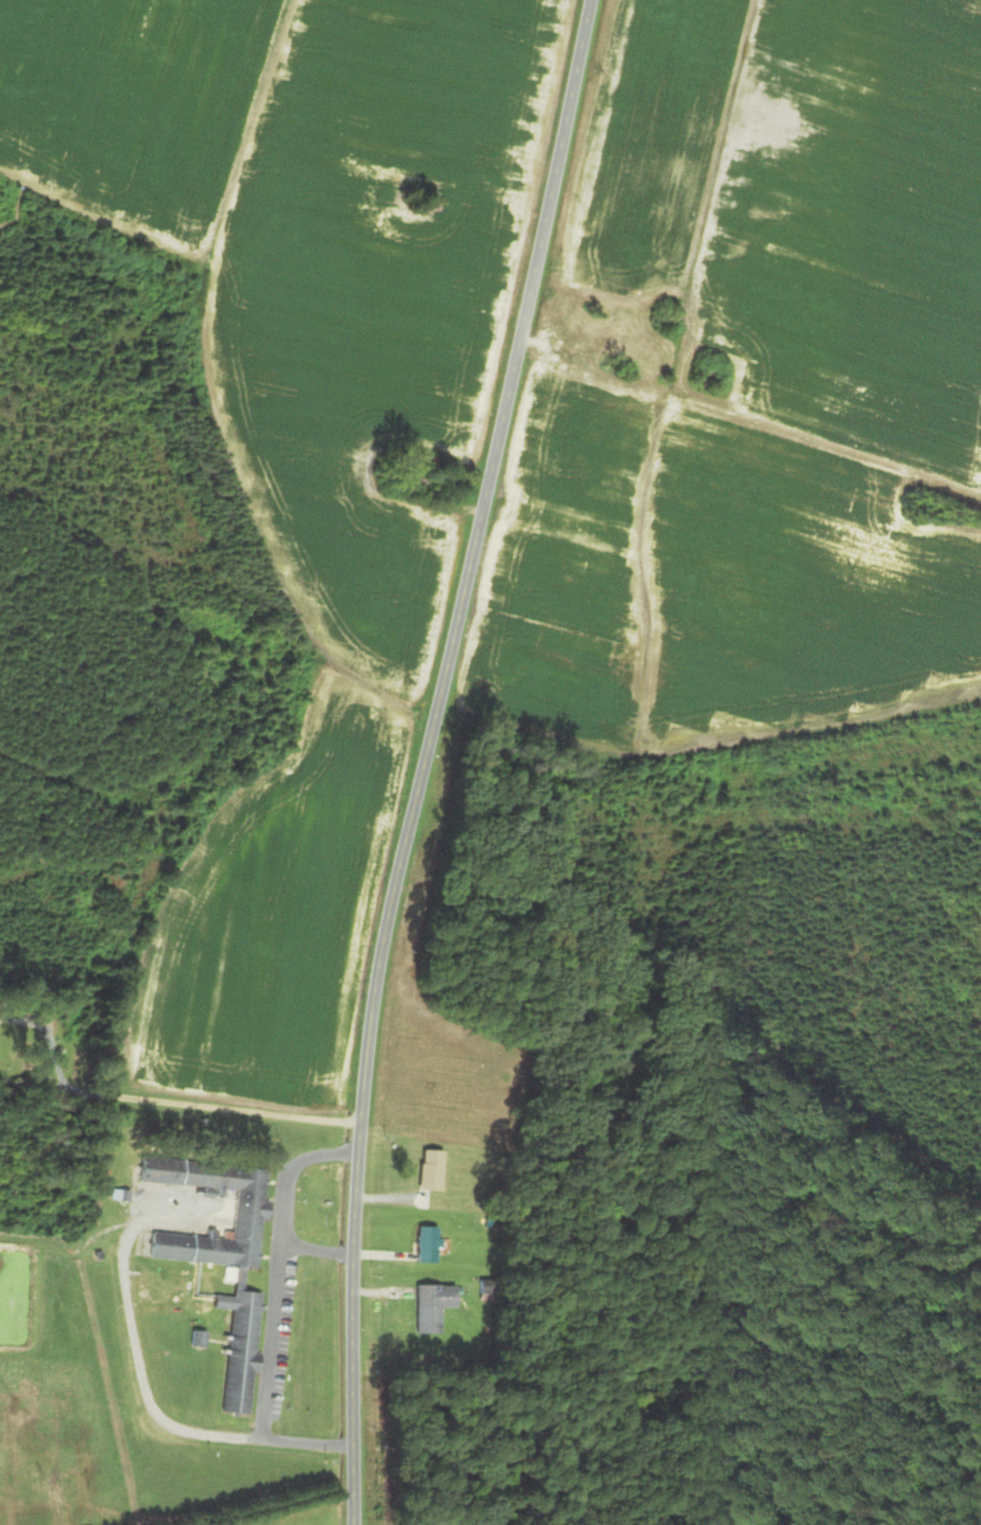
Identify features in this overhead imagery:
road: (418, 756)
road: (14, 1007)
road: (9, 1019)
road: (170, 1102)
building: (155, 1170)
building: (428, 1170)
building: (426, 1244)
road: (315, 1252)
building: (234, 1277)
building: (430, 1307)
road: (271, 1313)
road: (135, 1353)

